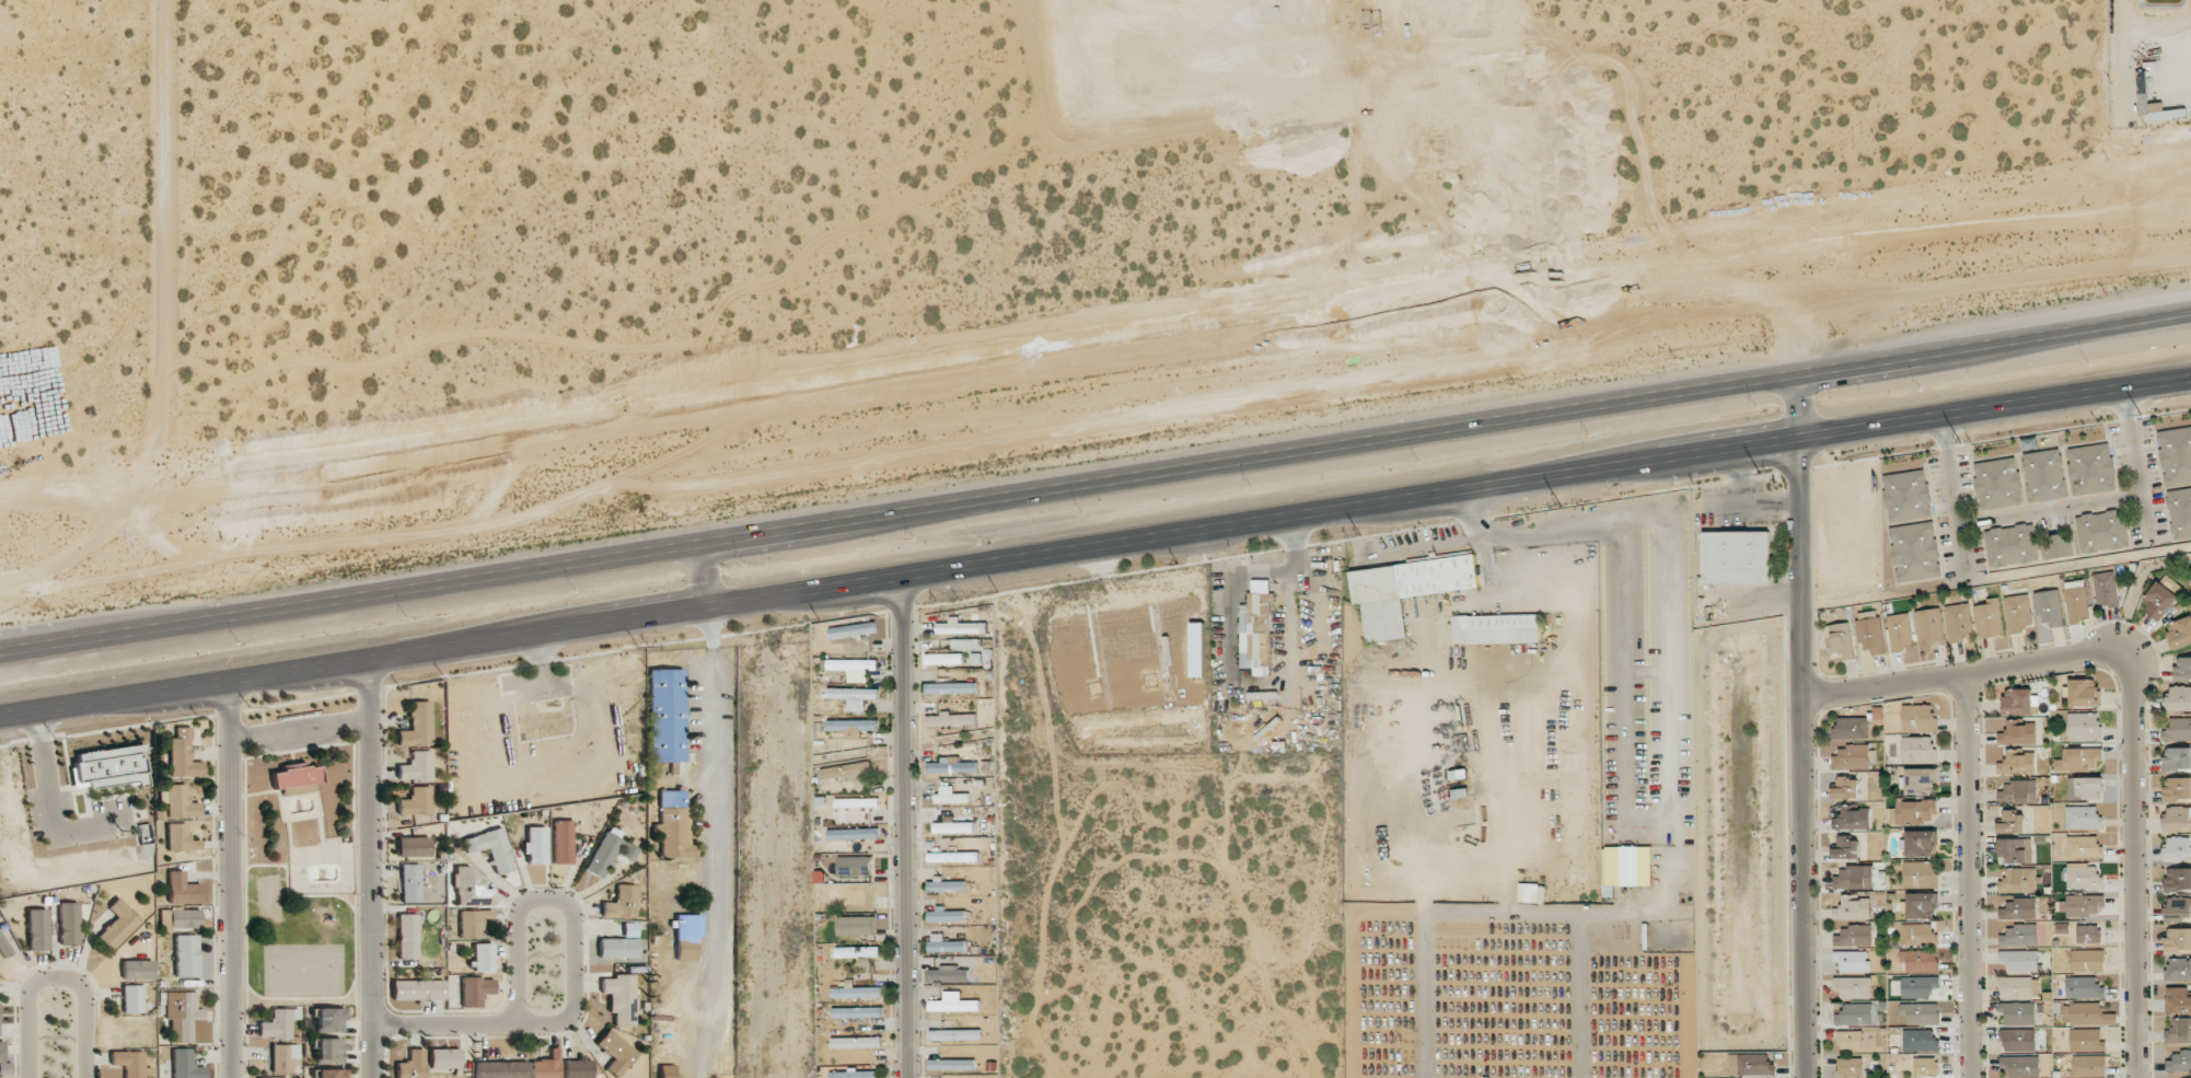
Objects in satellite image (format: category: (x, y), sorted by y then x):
road: (1093, 351)
road: (1794, 402)
road: (1993, 410)
building: (2176, 455)
building: (2091, 468)
road: (2137, 468)
building: (2044, 475)
building: (1998, 483)
building: (1906, 496)
road: (1956, 502)
road: (2051, 510)
building: (2180, 512)
building: (2102, 531)
building: (2010, 545)
building: (2056, 547)
building: (1915, 552)
building: (1737, 557)
road: (897, 578)
building: (2106, 589)
building: (1405, 590)
building: (2159, 600)
building: (2076, 601)
building: (2049, 607)
building: (2018, 613)
building: (1989, 618)
building: (1959, 622)
building: (1929, 626)
building: (961, 627)
building: (1256, 627)
building: (1496, 628)
building: (853, 630)
building: (1870, 631)
building: (1899, 631)
building: (2180, 631)
building: (1840, 640)
building: (965, 642)
building: (1197, 649)
building: (942, 657)
building: (853, 664)
building: (2182, 669)
road: (1963, 670)
building: (858, 679)
building: (951, 688)
building: (2084, 692)
building: (1262, 695)
building: (854, 696)
building: (2179, 698)
building: (2017, 702)
road: (1039, 703)
building: (666, 715)
building: (1918, 718)
building: (951, 719)
building: (415, 726)
building: (2084, 726)
building: (853, 727)
building: (1852, 728)
building: (2178, 730)
building: (2018, 733)
building: (1918, 749)
building: (183, 755)
building: (1852, 757)
road: (1796, 758)
building: (2177, 758)
building: (2079, 760)
building: (2017, 763)
building: (951, 766)
building: (415, 767)
building: (112, 768)
building: (847, 770)
building: (295, 777)
building: (1921, 780)
building: (1845, 787)
building: (2085, 787)
building: (2177, 788)
building: (292, 790)
building: (2018, 792)
building: (950, 796)
building: (415, 801)
building: (181, 802)
building: (853, 807)
building: (1915, 811)
building: (2083, 818)
building: (2178, 818)
building: (1852, 819)
building: (2010, 822)
building: (674, 824)
building: (953, 826)
road: (905, 827)
building: (853, 834)
building: (179, 838)
building: (563, 842)
building: (1921, 843)
building: (413, 846)
building: (535, 846)
building: (2083, 846)
building: (491, 848)
building: (1845, 848)
building: (2178, 848)
building: (2014, 850)
building: (608, 854)
building: (953, 857)
road: (2128, 863)
building: (855, 866)
building: (1626, 866)
road: (371, 867)
building: (1920, 873)
road: (1957, 874)
building: (2084, 876)
building: (1854, 878)
road: (229, 879)
building: (2178, 879)
building: (2018, 880)
building: (409, 883)
building: (946, 885)
building: (472, 888)
building: (182, 889)
building: (846, 896)
building: (1531, 896)
building: (621, 903)
building: (1922, 905)
building: (2080, 905)
building: (1853, 908)
building: (2178, 908)
building: (2018, 909)
building: (946, 915)
building: (181, 919)
building: (473, 923)
building: (68, 924)
building: (118, 924)
building: (856, 926)
building: (629, 929)
building: (37, 930)
building: (2089, 934)
building: (1918, 935)
building: (2019, 935)
building: (407, 936)
building: (1854, 936)
building: (2178, 939)
building: (944, 944)
building: (4, 947)
building: (617, 948)
building: (857, 952)
building: (186, 955)
building: (483, 957)
building: (1921, 960)
building: (2019, 960)
building: (2088, 960)
building: (1854, 962)
park: (303, 969)
building: (137, 970)
building: (2178, 970)
building: (949, 973)
road: (578, 977)
road: (55, 980)
building: (1918, 986)
building: (1854, 987)
building: (2016, 987)
building: (2084, 987)
building: (417, 989)
building: (475, 990)
building: (857, 993)
building: (619, 998)
building: (131, 999)
building: (2178, 1000)
building: (953, 1002)
building: (857, 1012)
building: (1921, 1012)
building: (2018, 1012)
building: (1854, 1015)
building: (183, 1016)
building: (329, 1020)
building: (278, 1023)
building: (2179, 1031)
building: (954, 1034)
building: (1850, 1040)
building: (1921, 1040)
building: (2018, 1040)
building: (2087, 1040)
building: (856, 1042)
building: (329, 1051)
building: (1, 1052)
building: (615, 1053)
building: (282, 1057)
building: (444, 1058)
building: (2179, 1062)
building: (128, 1063)
building: (185, 1065)
building: (411, 1065)
building: (952, 1065)
building: (1751, 1065)
building: (2089, 1065)
building: (546, 1066)
building: (1850, 1066)
building: (1926, 1066)
building: (2020, 1066)
building: (578, 1068)
building: (668, 1071)
building: (331, 1074)
building: (855, 1074)
building: (277, 1077)

